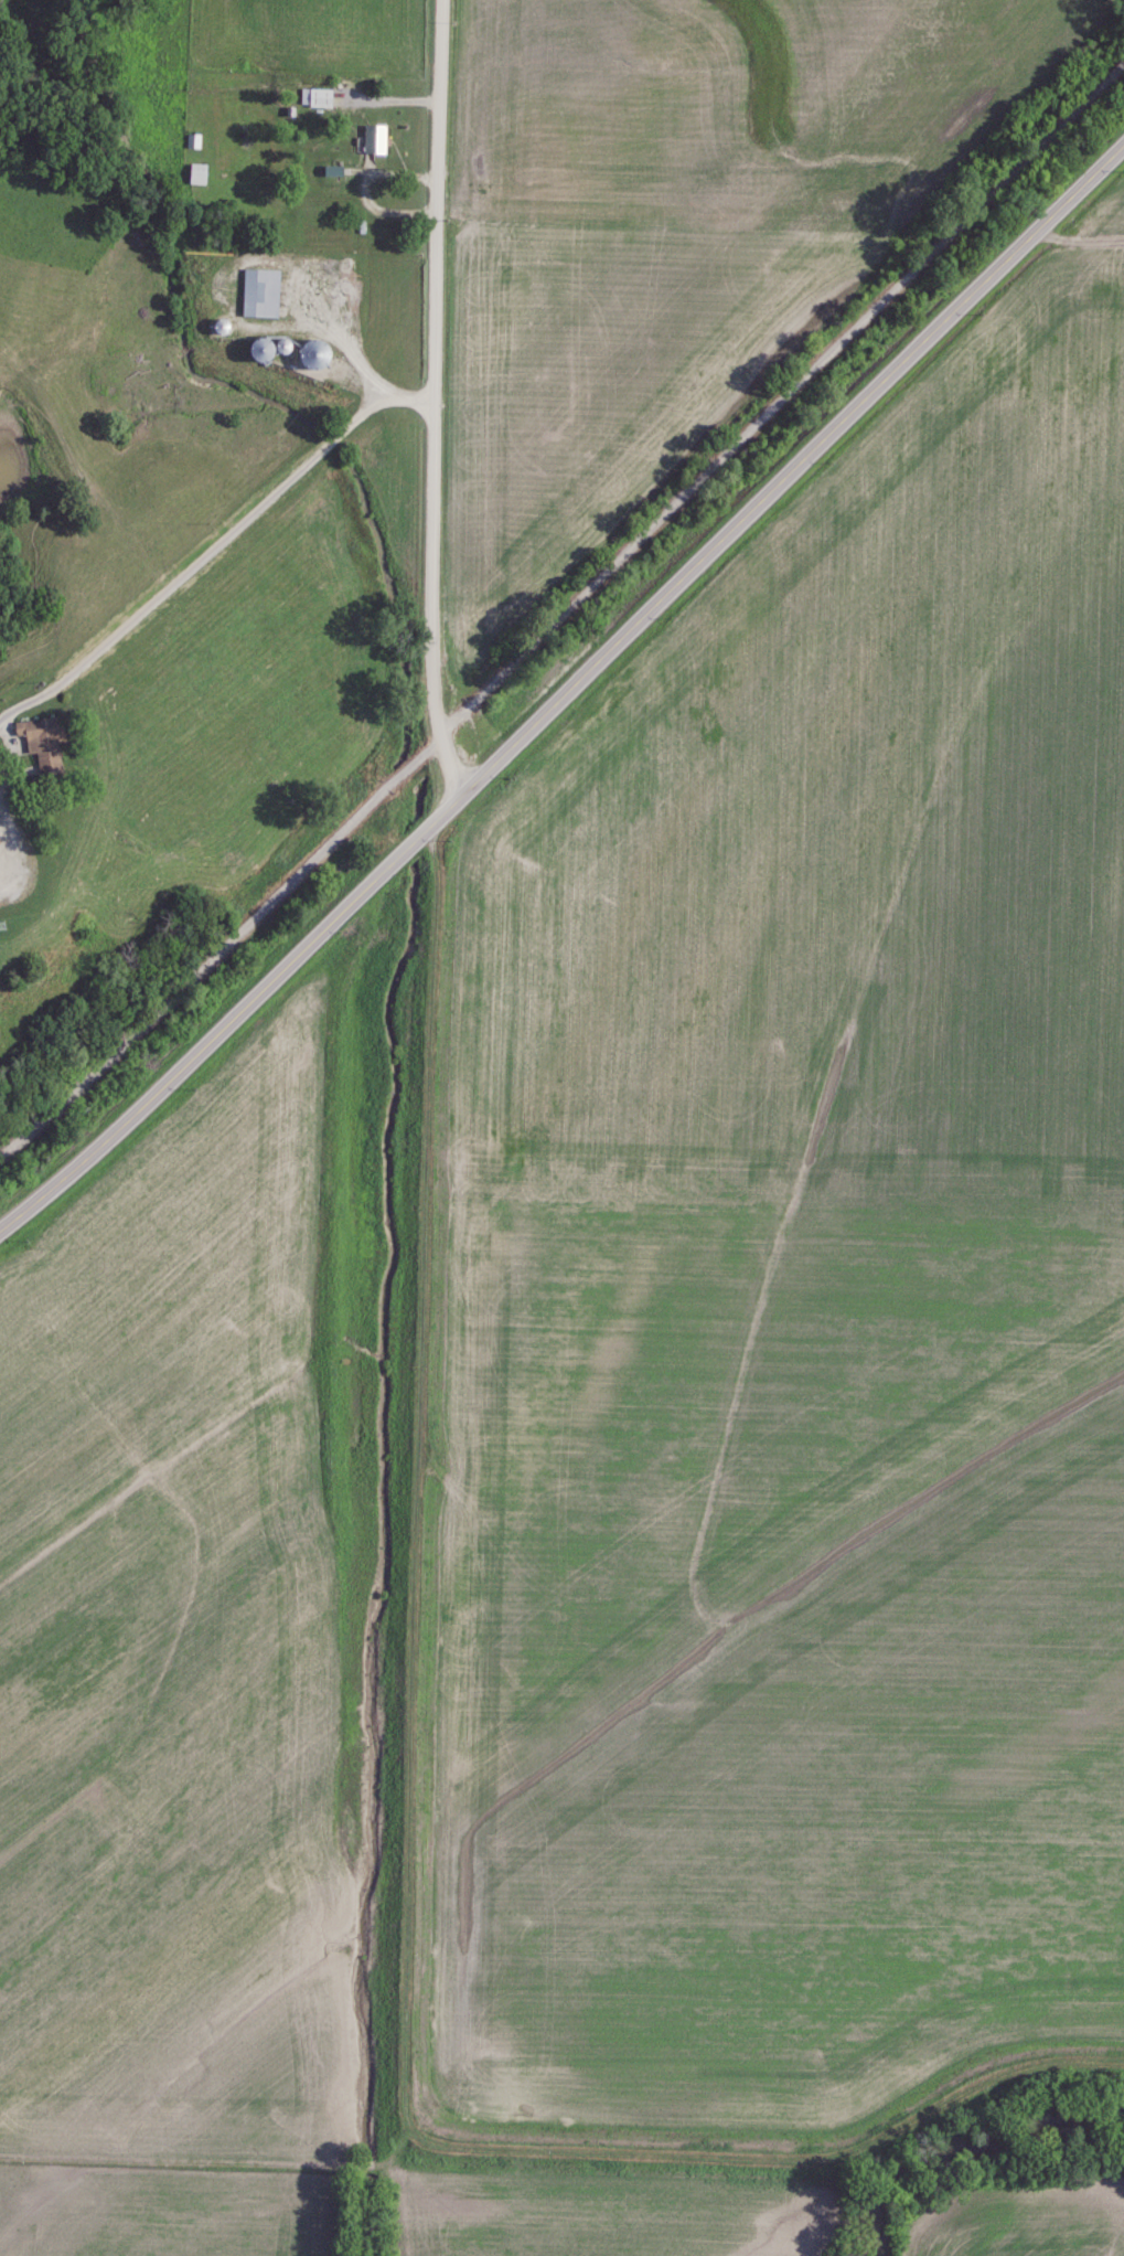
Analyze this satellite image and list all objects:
building: (314, 99)
building: (372, 141)
building: (191, 143)
building: (195, 175)
building: (257, 295)
road: (435, 397)
road: (226, 528)
road: (564, 613)
road: (565, 695)
building: (39, 745)

